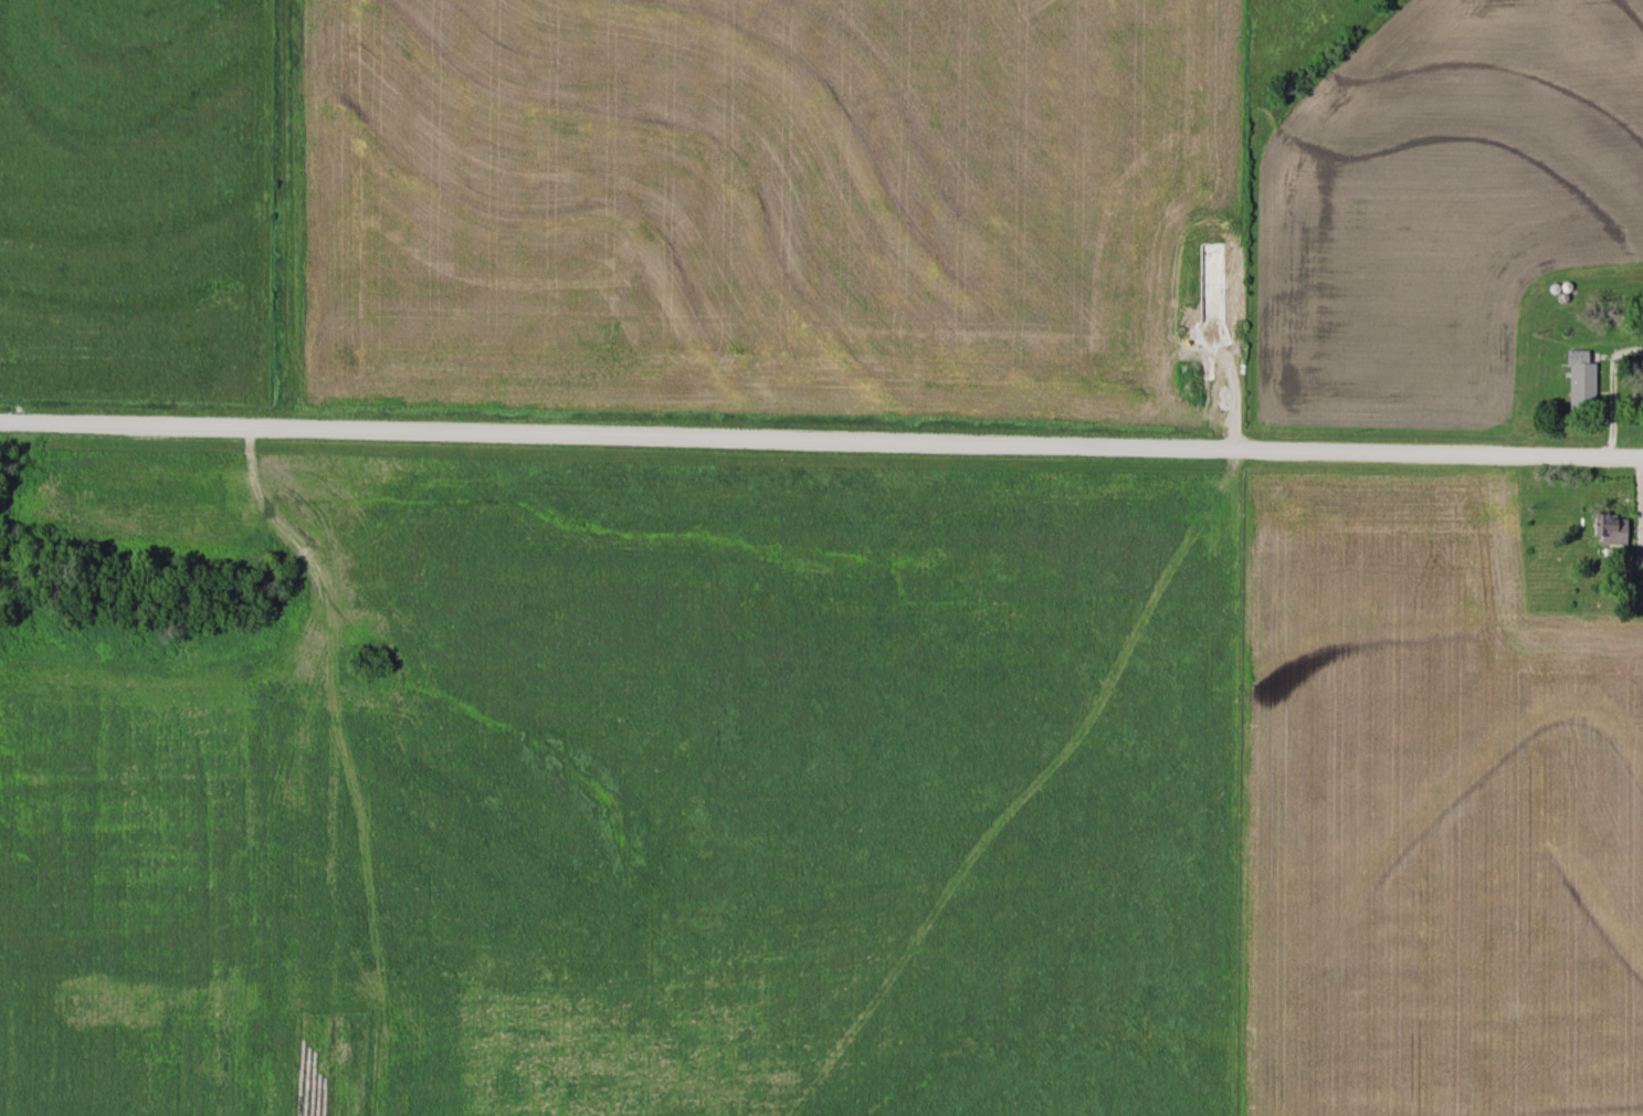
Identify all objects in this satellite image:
building: (1581, 383)
road: (1610, 389)
road: (821, 440)
building: (1613, 533)

